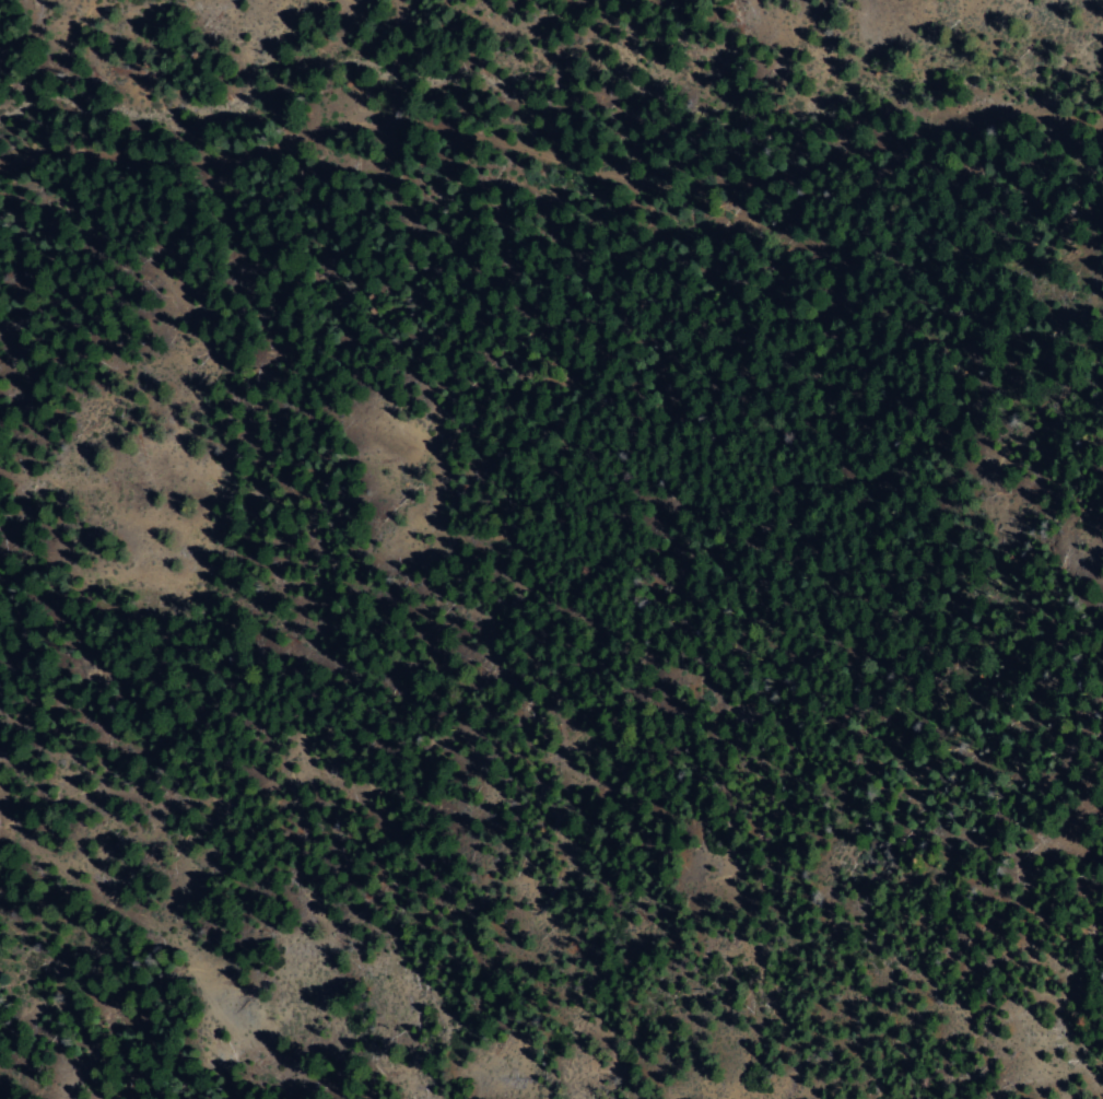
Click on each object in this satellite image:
road: (558, 131)

